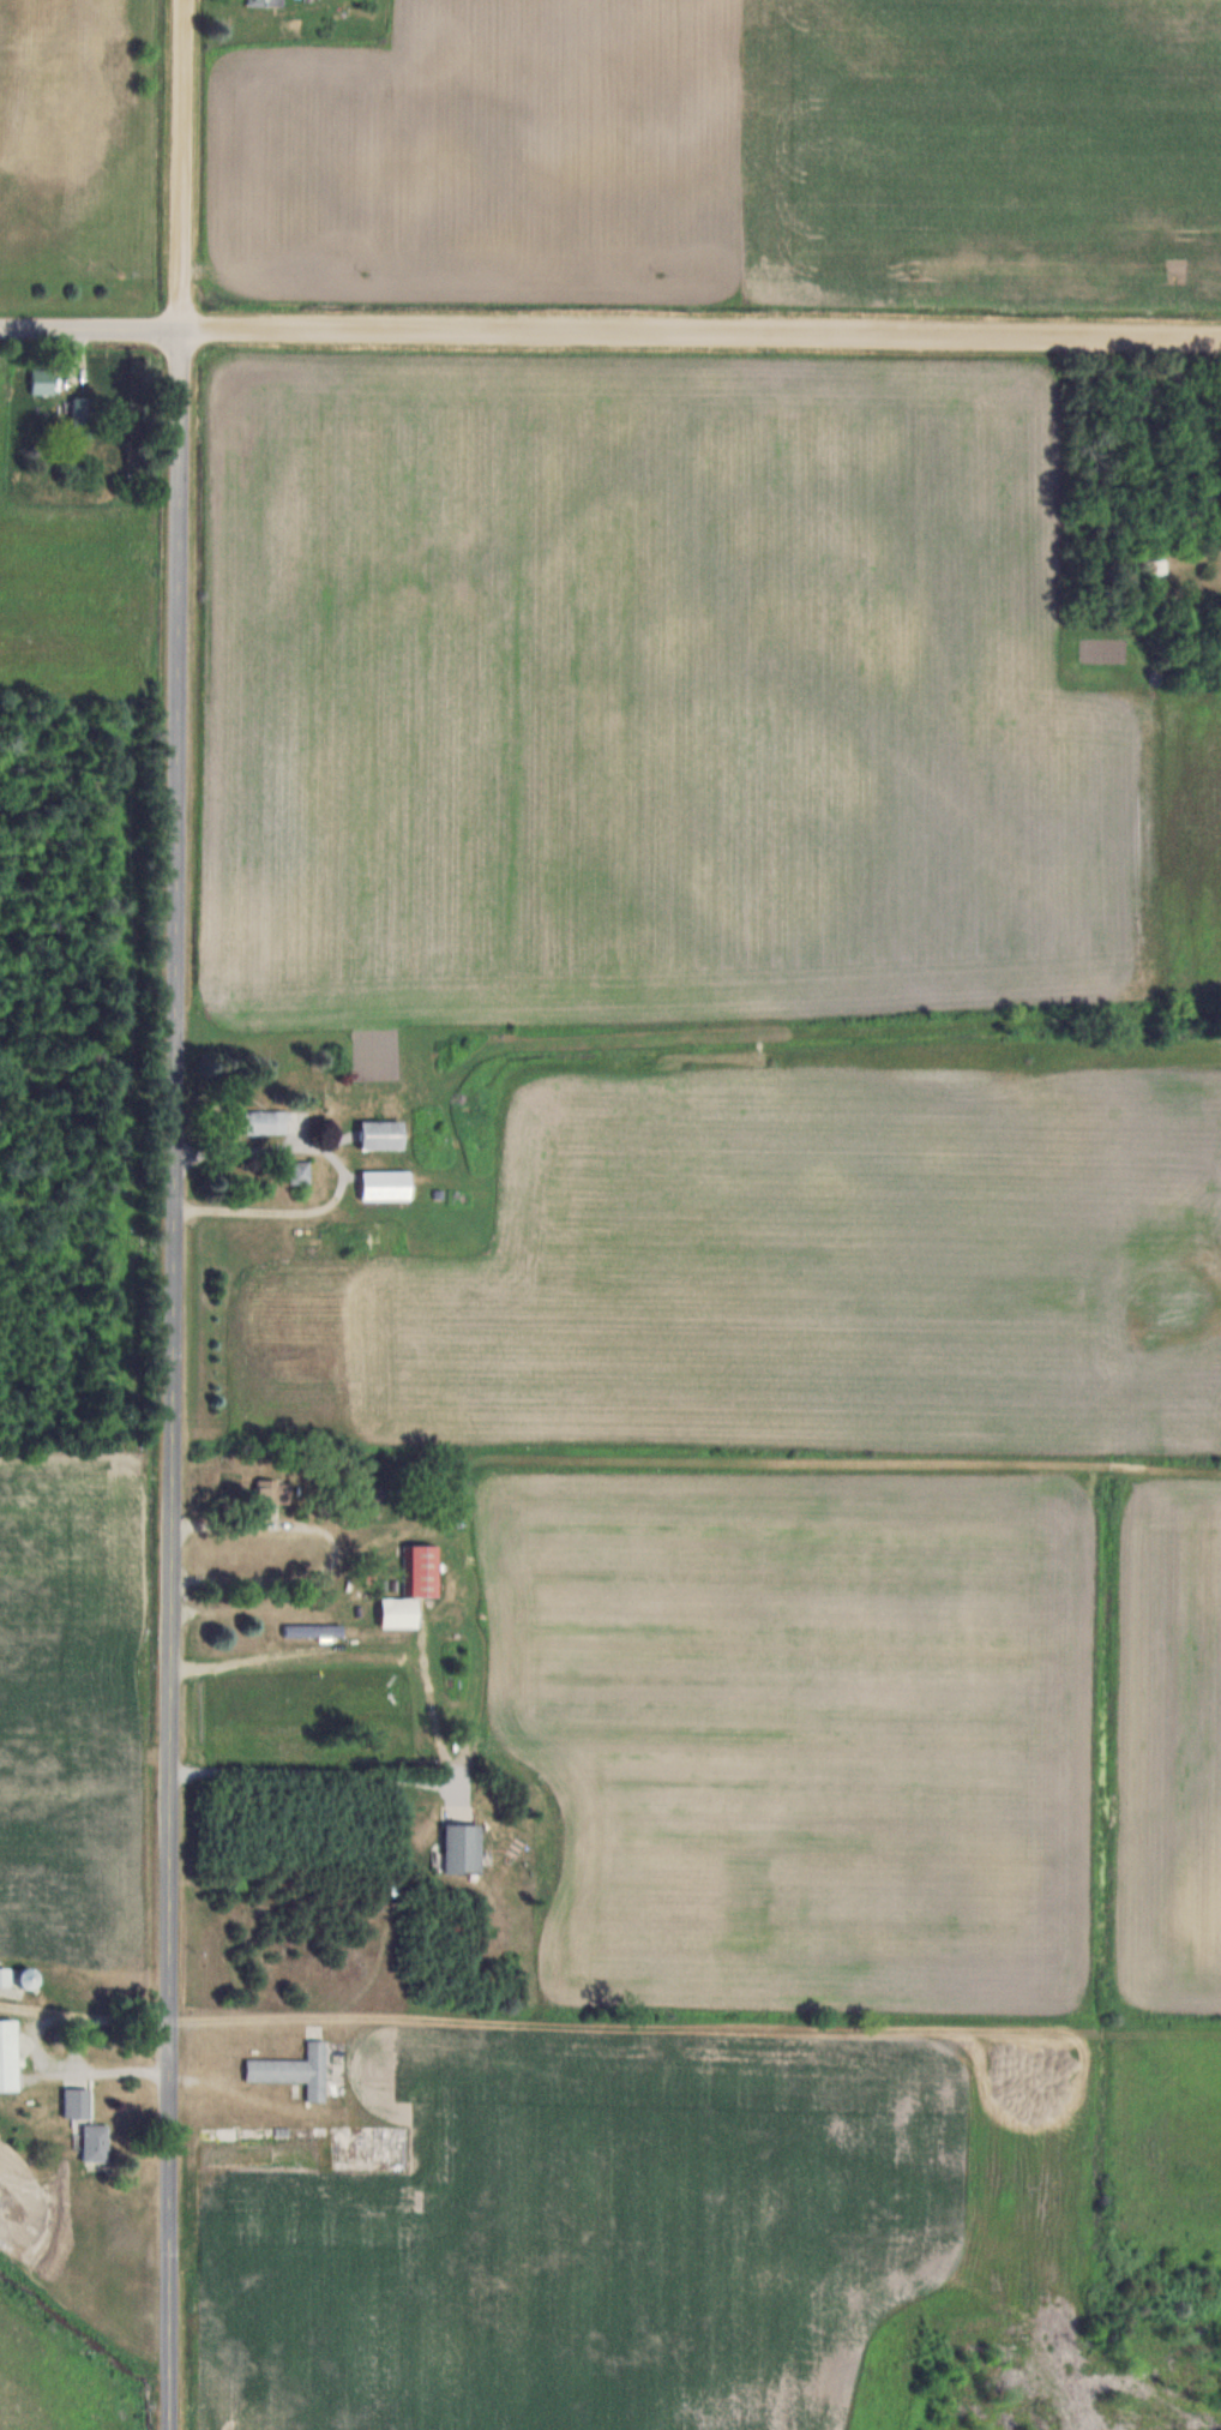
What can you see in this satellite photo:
building: (267, 2)
road: (182, 166)
road: (90, 330)
road: (700, 335)
building: (85, 419)
building: (1161, 566)
building: (265, 1122)
building: (383, 1135)
building: (301, 1172)
building: (386, 1186)
road: (176, 1380)
building: (269, 1493)
building: (415, 1588)
building: (320, 1631)
road: (317, 1770)
building: (463, 1848)
building: (28, 1979)
building: (8, 2056)
building: (295, 2070)
building: (77, 2105)
building: (96, 2143)

